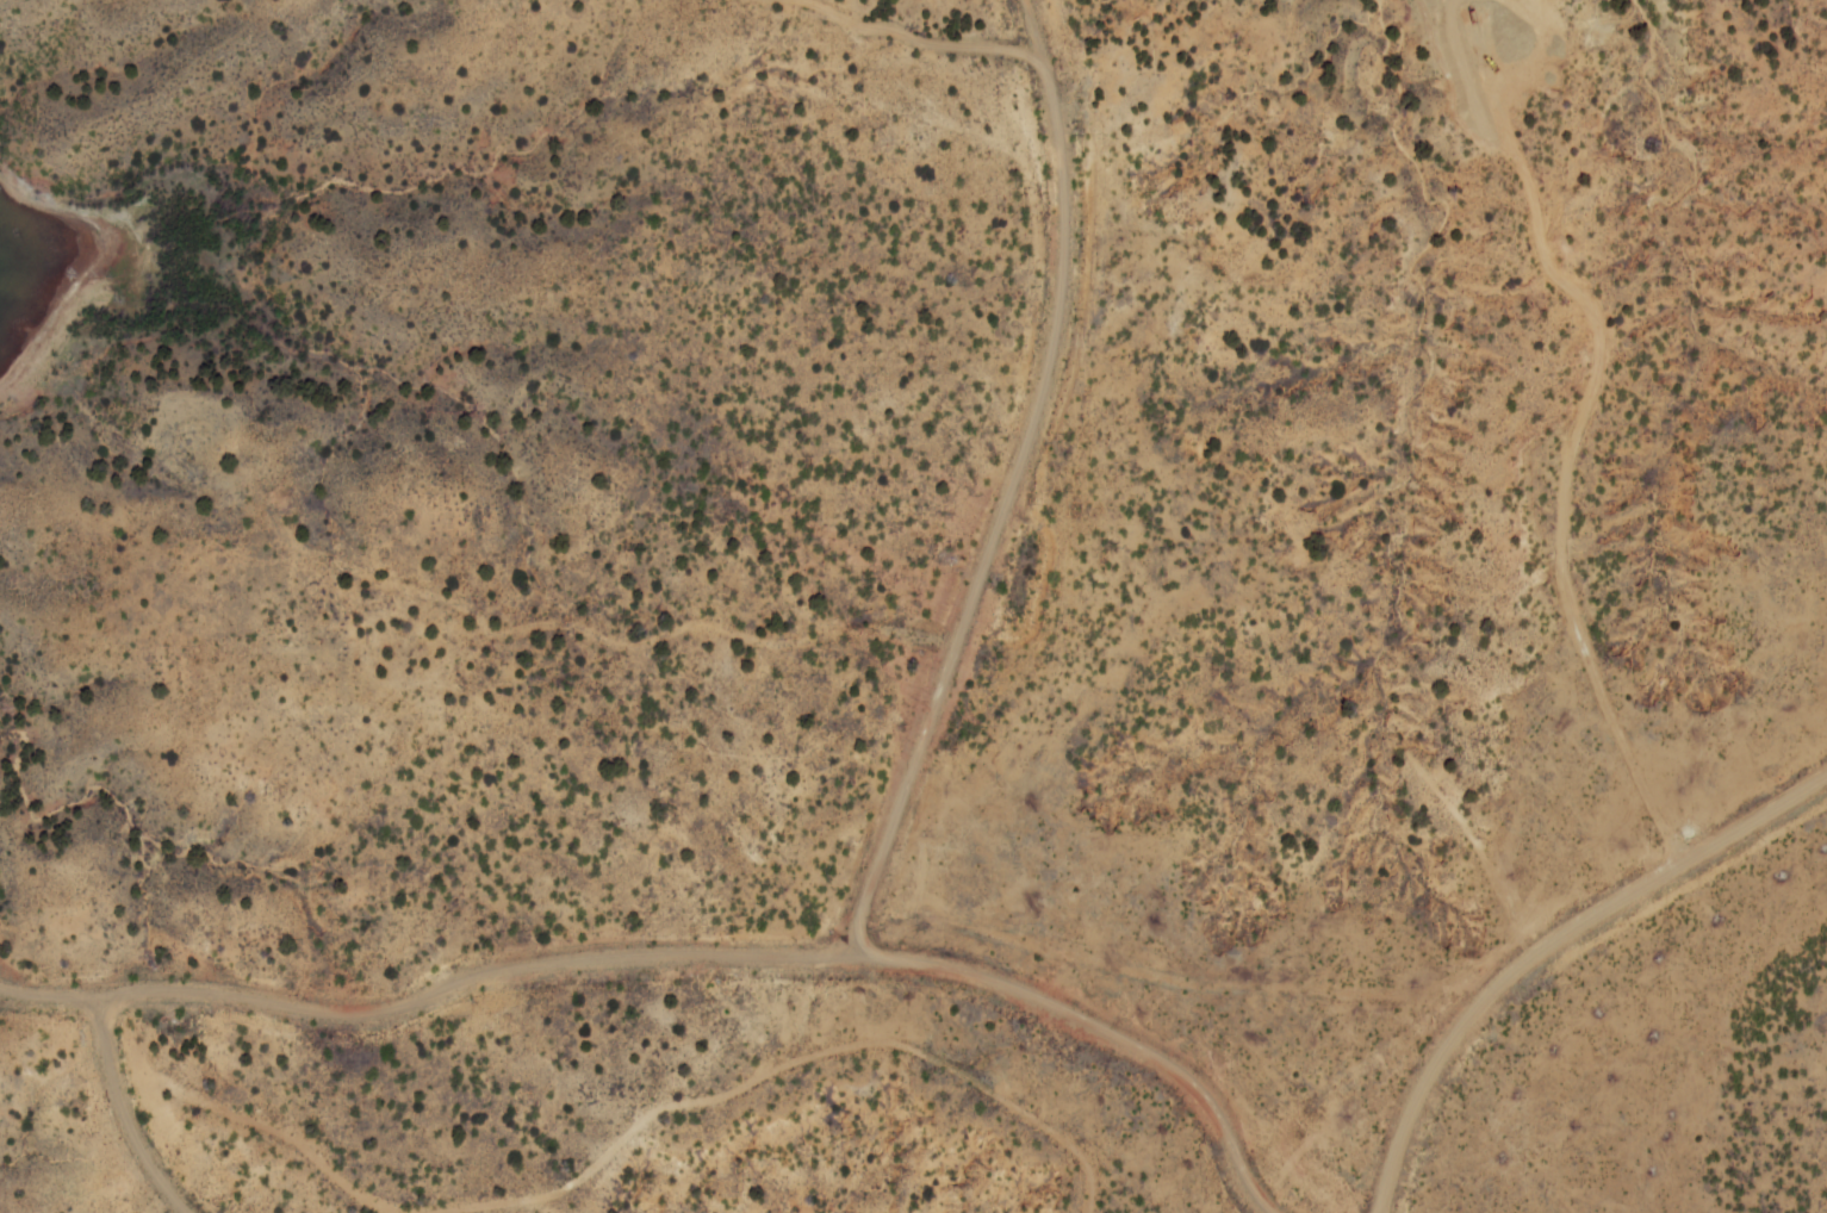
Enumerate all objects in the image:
road: (1011, 485)
road: (1548, 944)
road: (737, 954)
road: (58, 999)
road: (126, 1113)

